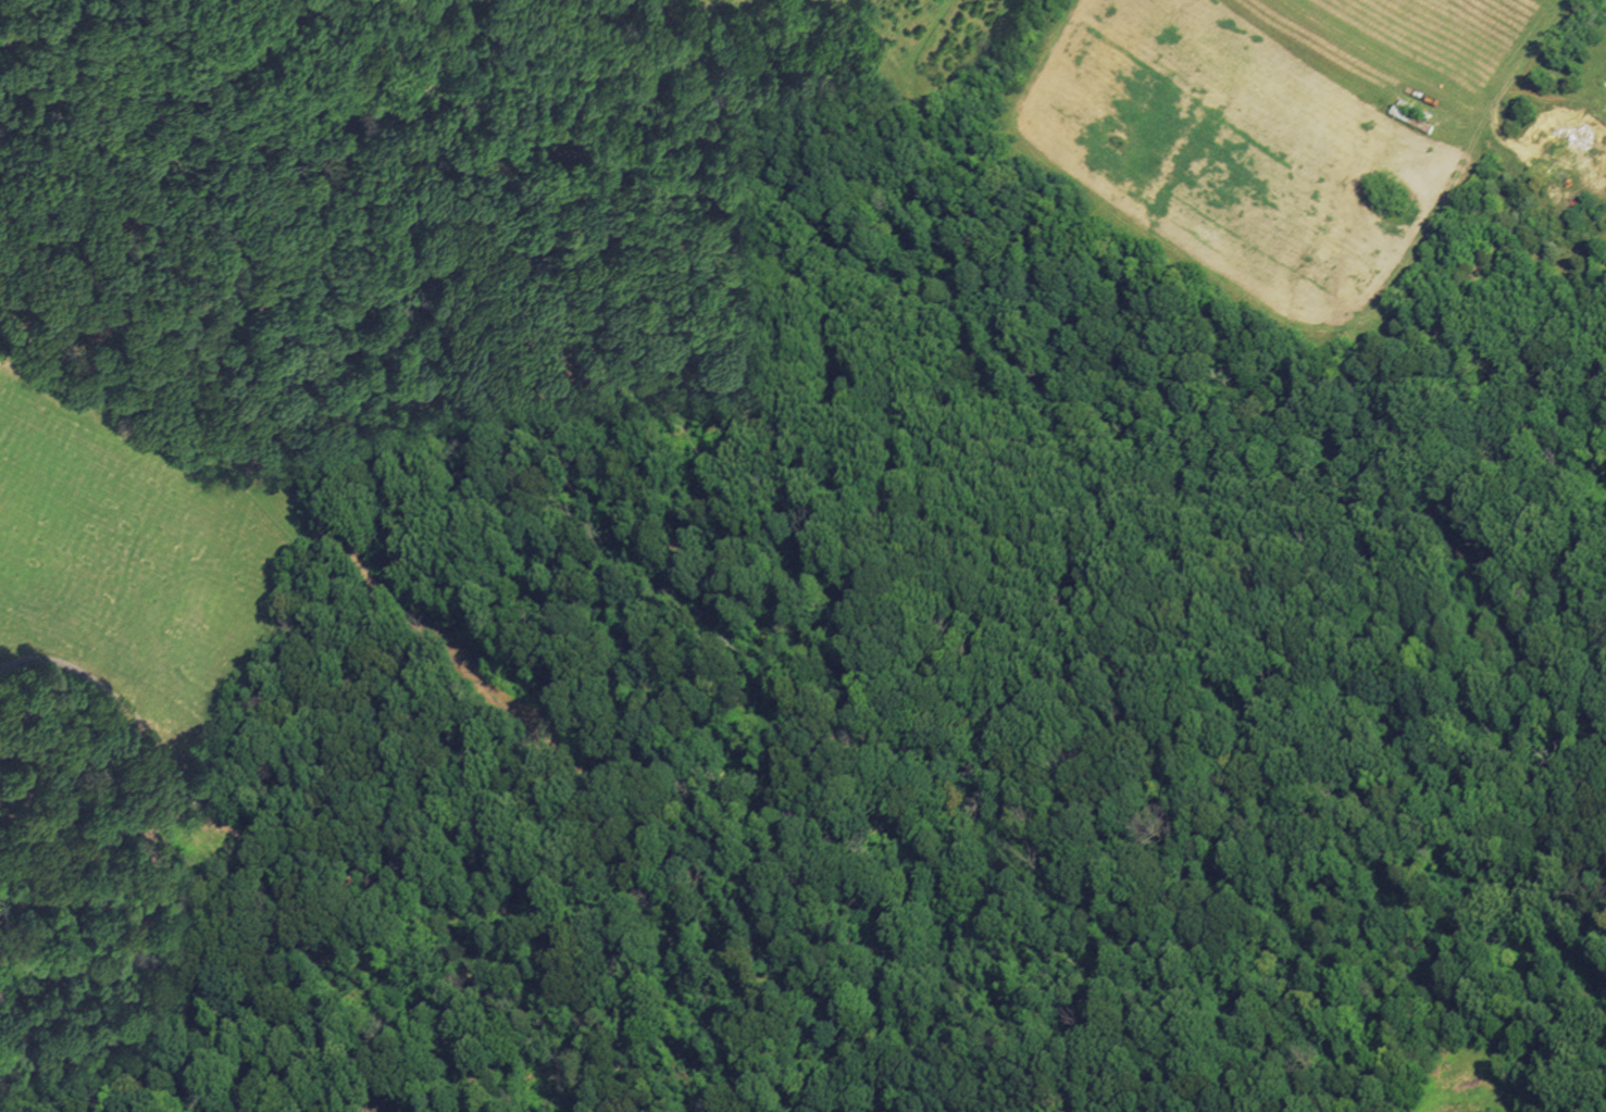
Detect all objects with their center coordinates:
building: (1517, 3)
building: (1406, 115)
road: (13, 143)

